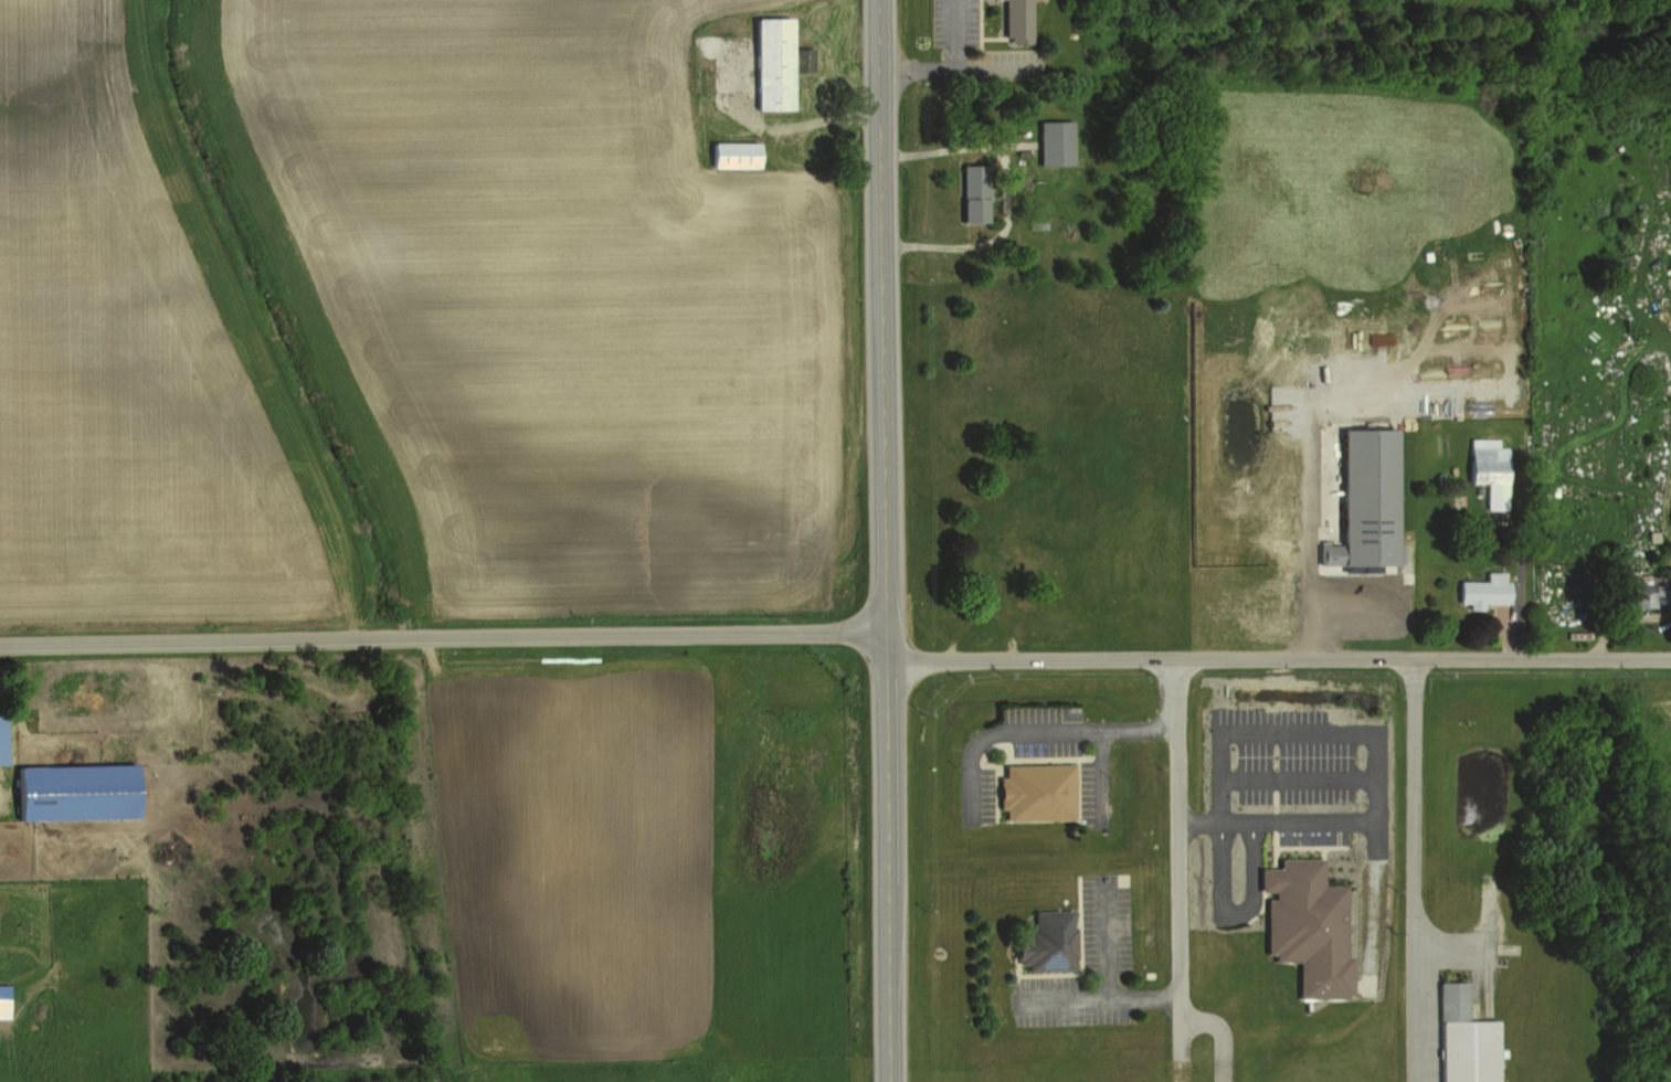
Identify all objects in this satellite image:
building: (1014, 22)
road: (942, 55)
building: (780, 64)
building: (1053, 137)
road: (951, 148)
building: (744, 156)
building: (967, 194)
road: (985, 241)
road: (879, 322)
building: (1484, 469)
building: (1365, 498)
building: (1670, 520)
building: (1478, 591)
building: (1637, 591)
road: (443, 635)
road: (1275, 658)
road: (1097, 730)
road: (1356, 733)
building: (6, 739)
building: (87, 792)
building: (1035, 793)
road: (885, 863)
road: (1177, 870)
road: (1415, 870)
building: (1307, 927)
building: (1043, 942)
road: (1104, 945)
building: (7, 990)
road: (1101, 997)
road: (1219, 1033)
building: (1463, 1040)

